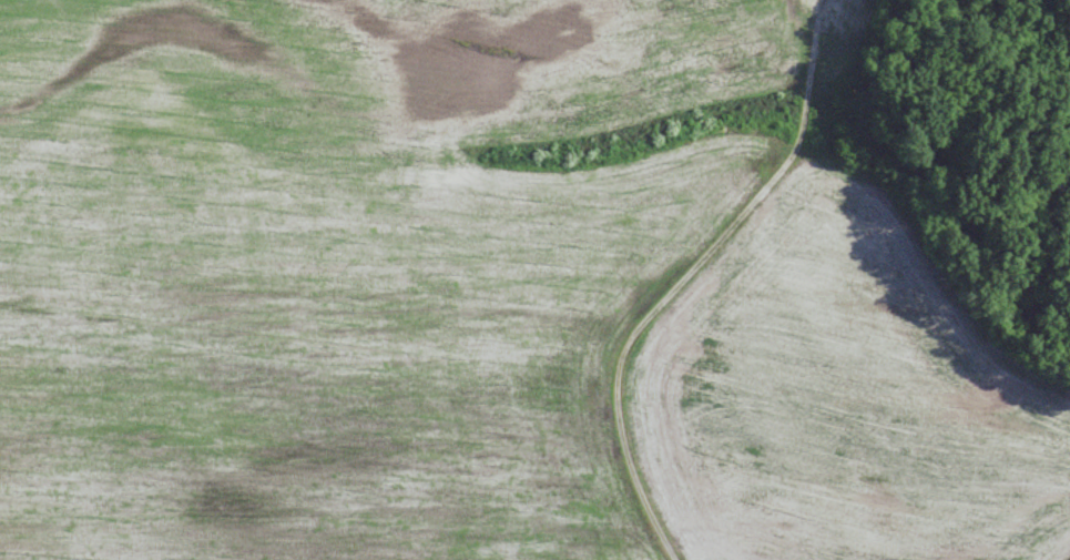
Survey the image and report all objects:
road: (680, 276)

